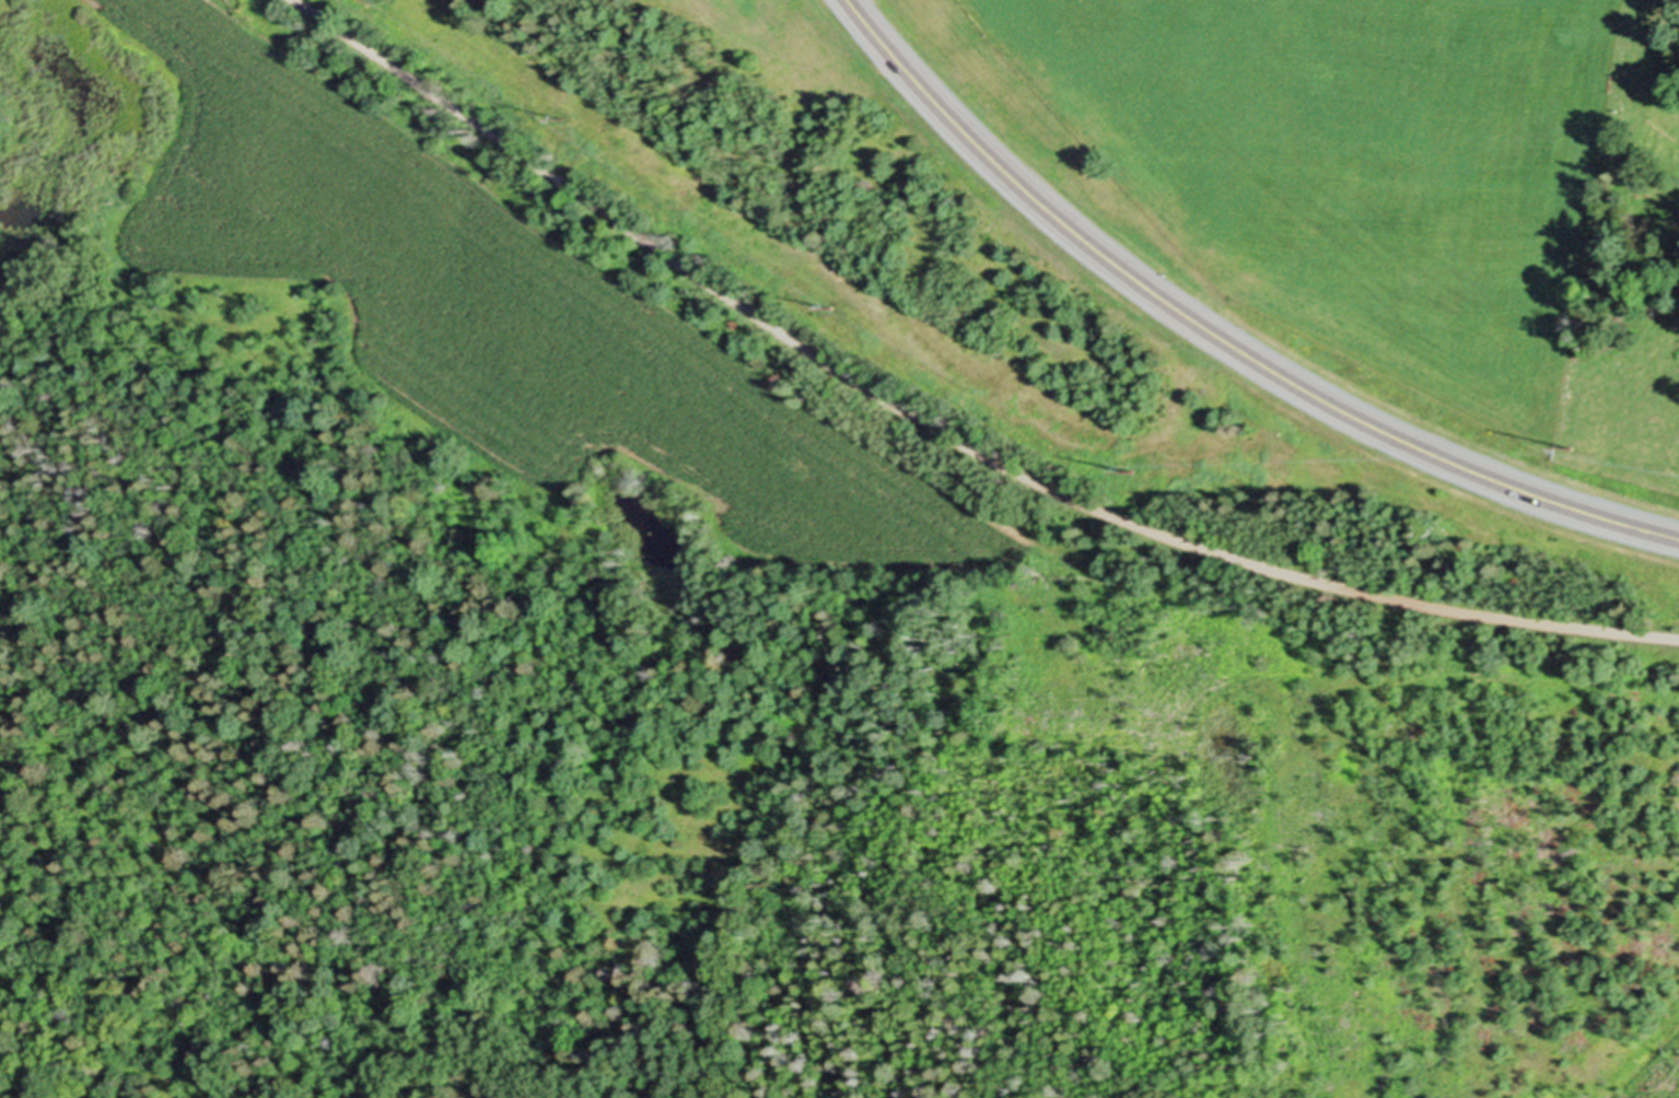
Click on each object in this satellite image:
power tower: (562, 115)
power tower: (832, 304)
road: (1222, 334)
road: (942, 429)
power tower: (1571, 442)
power tower: (1130, 468)

